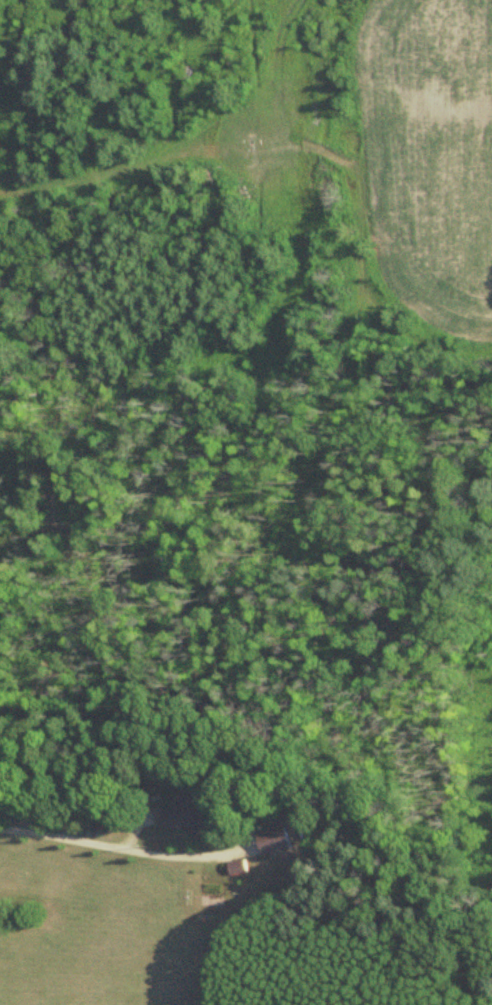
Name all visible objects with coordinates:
building: (195, 815)
building: (276, 839)

